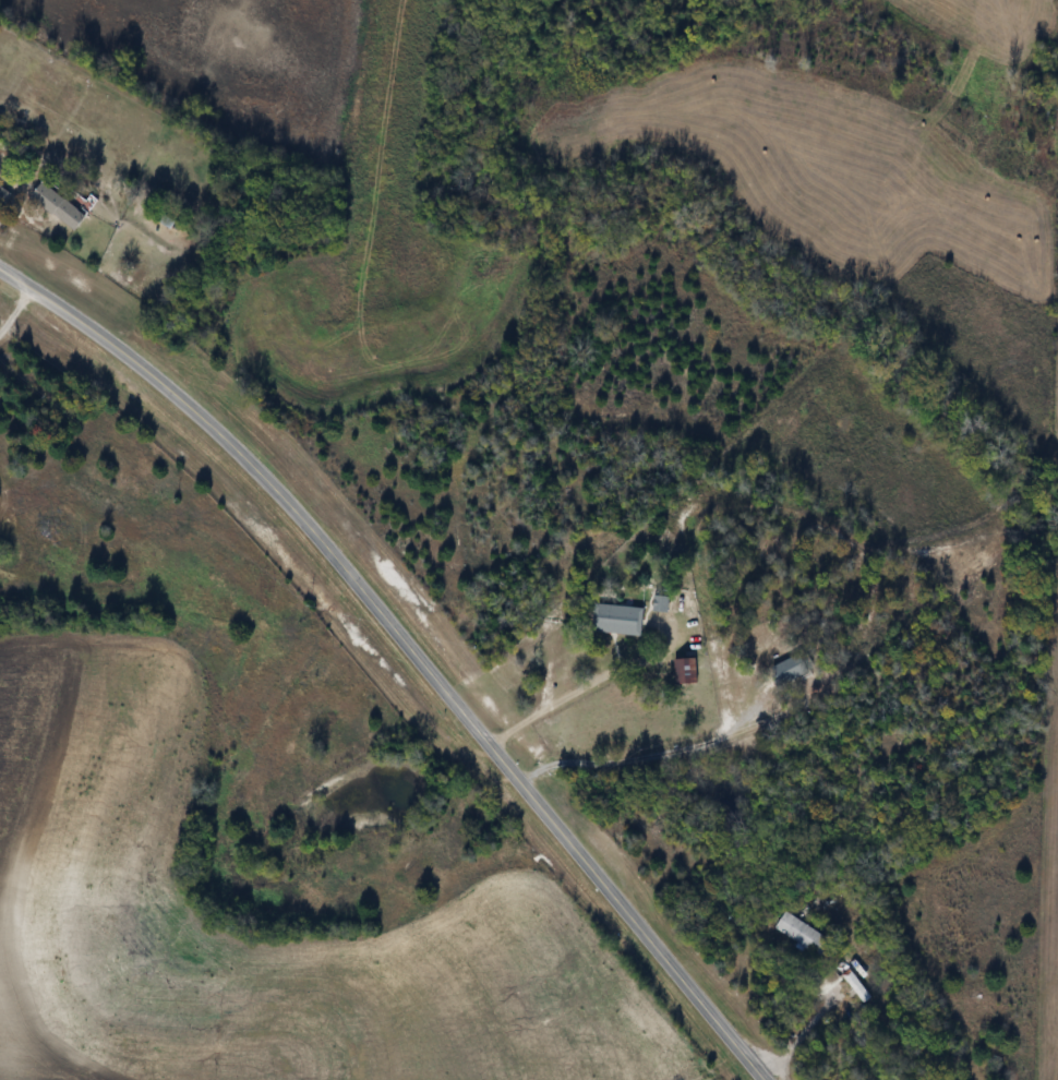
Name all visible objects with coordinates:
building: (59, 207)
road: (16, 309)
building: (618, 622)
road: (413, 643)
building: (788, 662)
building: (687, 673)
road: (577, 689)
road: (650, 756)
building: (804, 936)
road: (801, 1033)

